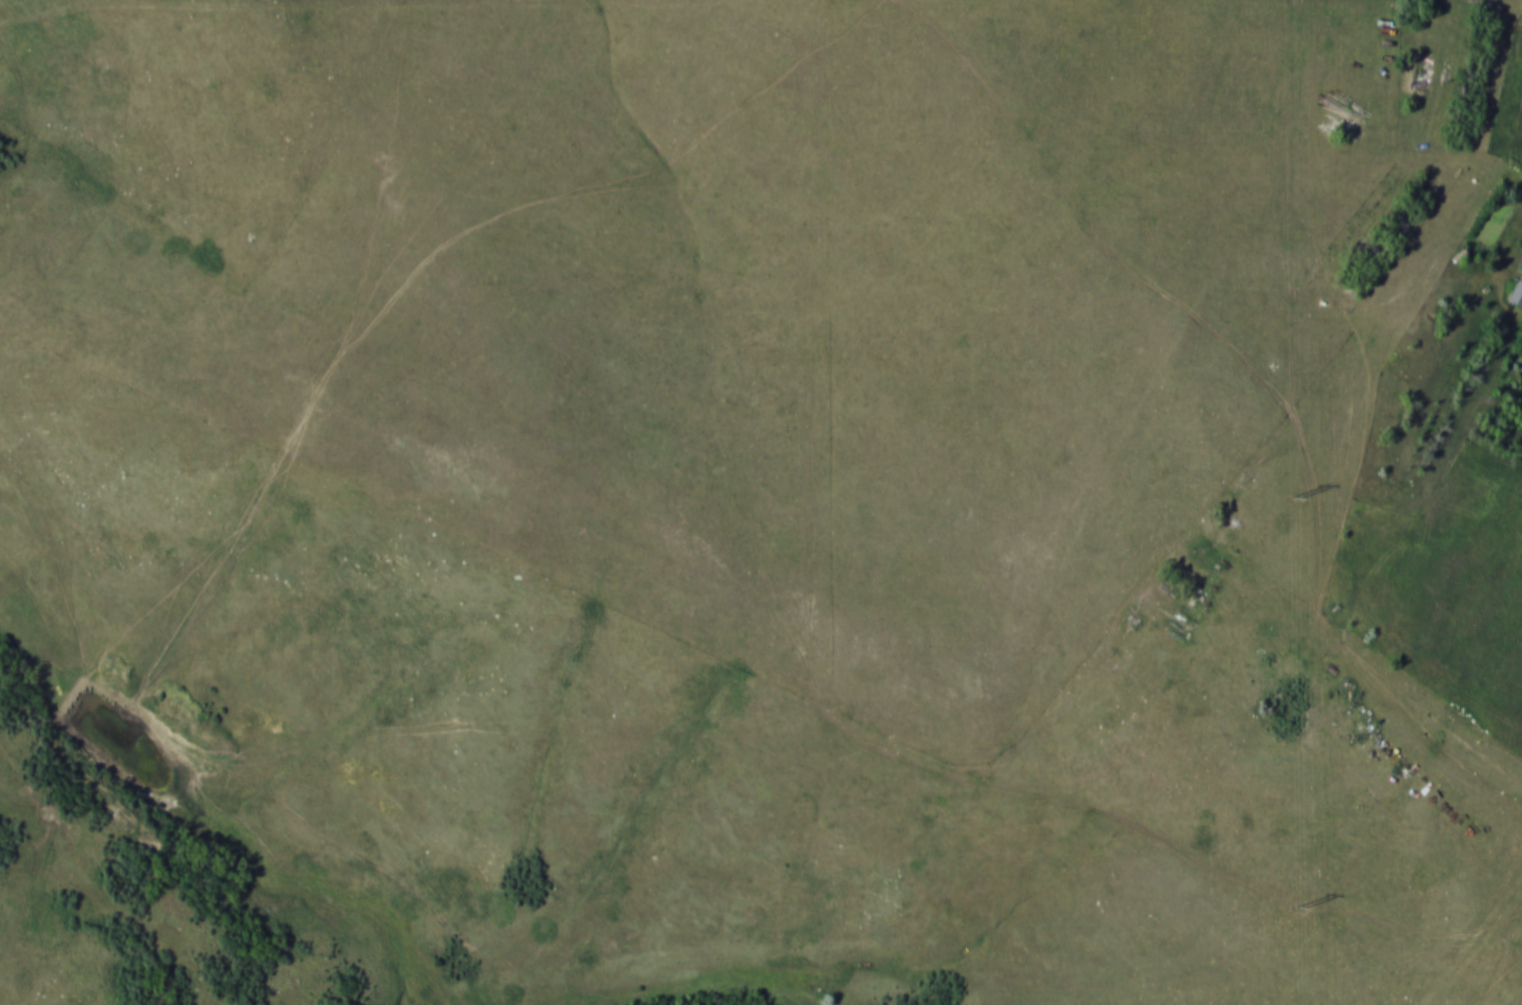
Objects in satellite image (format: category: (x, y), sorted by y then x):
road: (337, 1)
building: (1516, 292)
power tower: (1303, 500)
power tower: (1303, 910)

